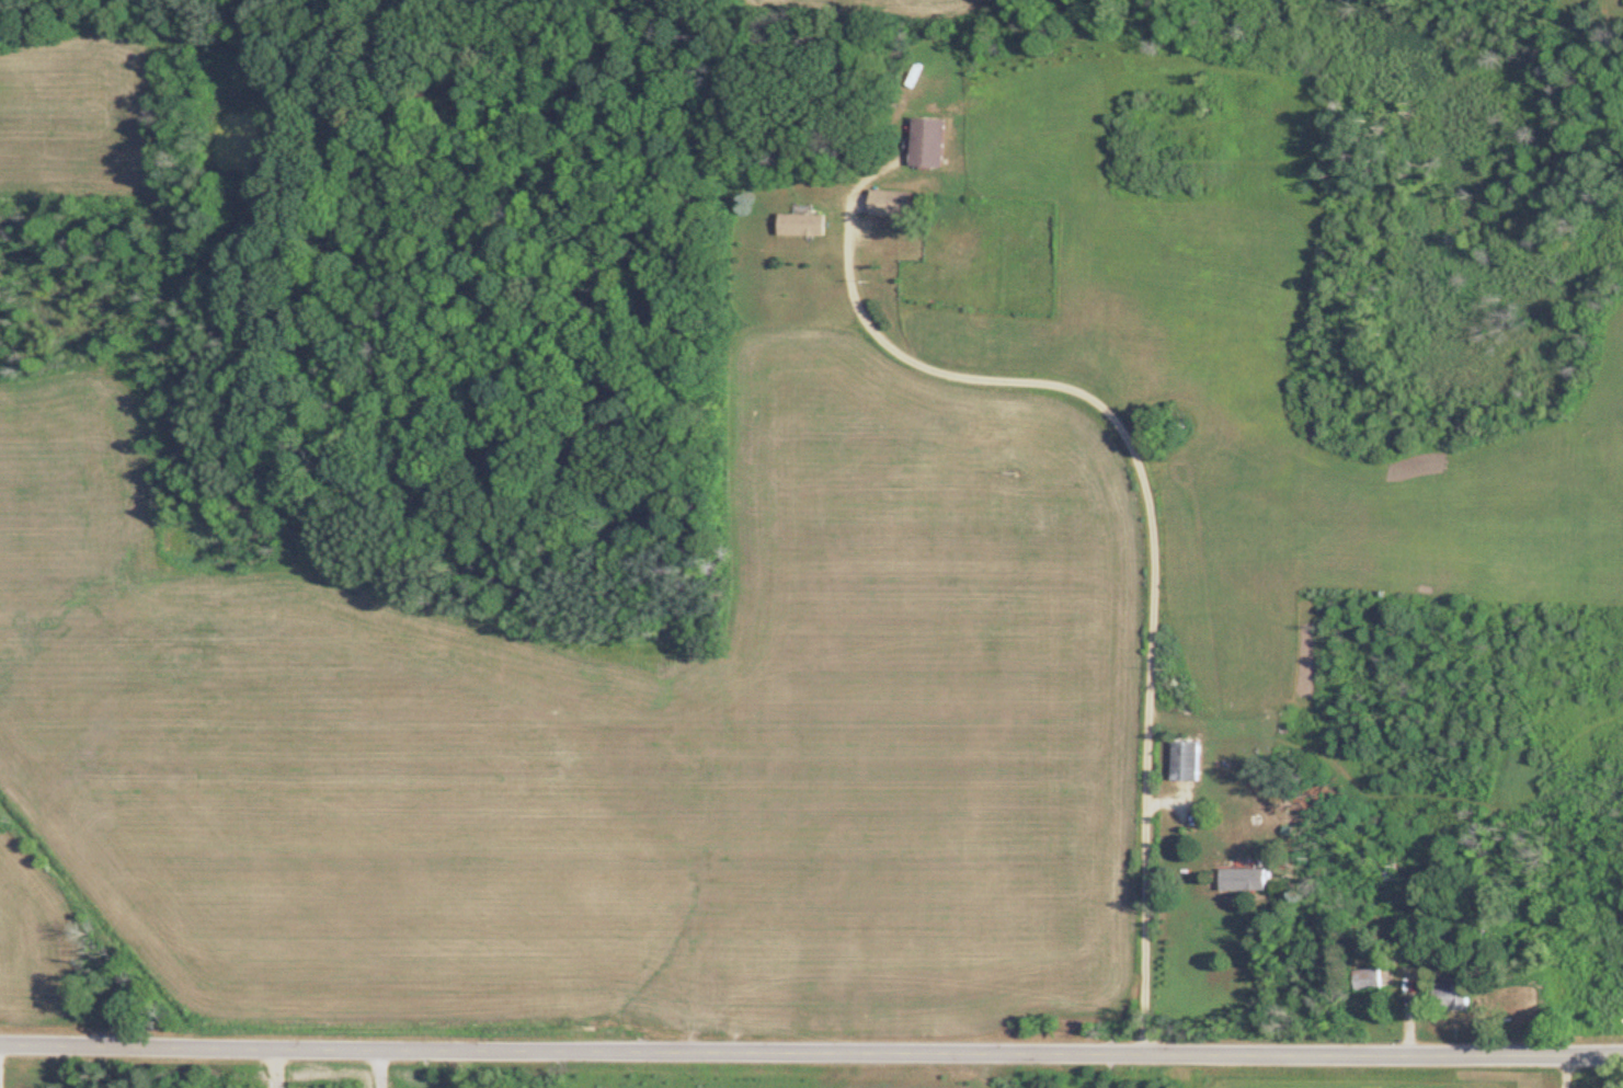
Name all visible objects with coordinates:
building: (884, 203)
building: (798, 225)
road: (1145, 527)
building: (1181, 761)
building: (1238, 881)
building: (1363, 981)
building: (1447, 999)
road: (811, 1046)
road: (377, 1068)
road: (1562, 1070)

